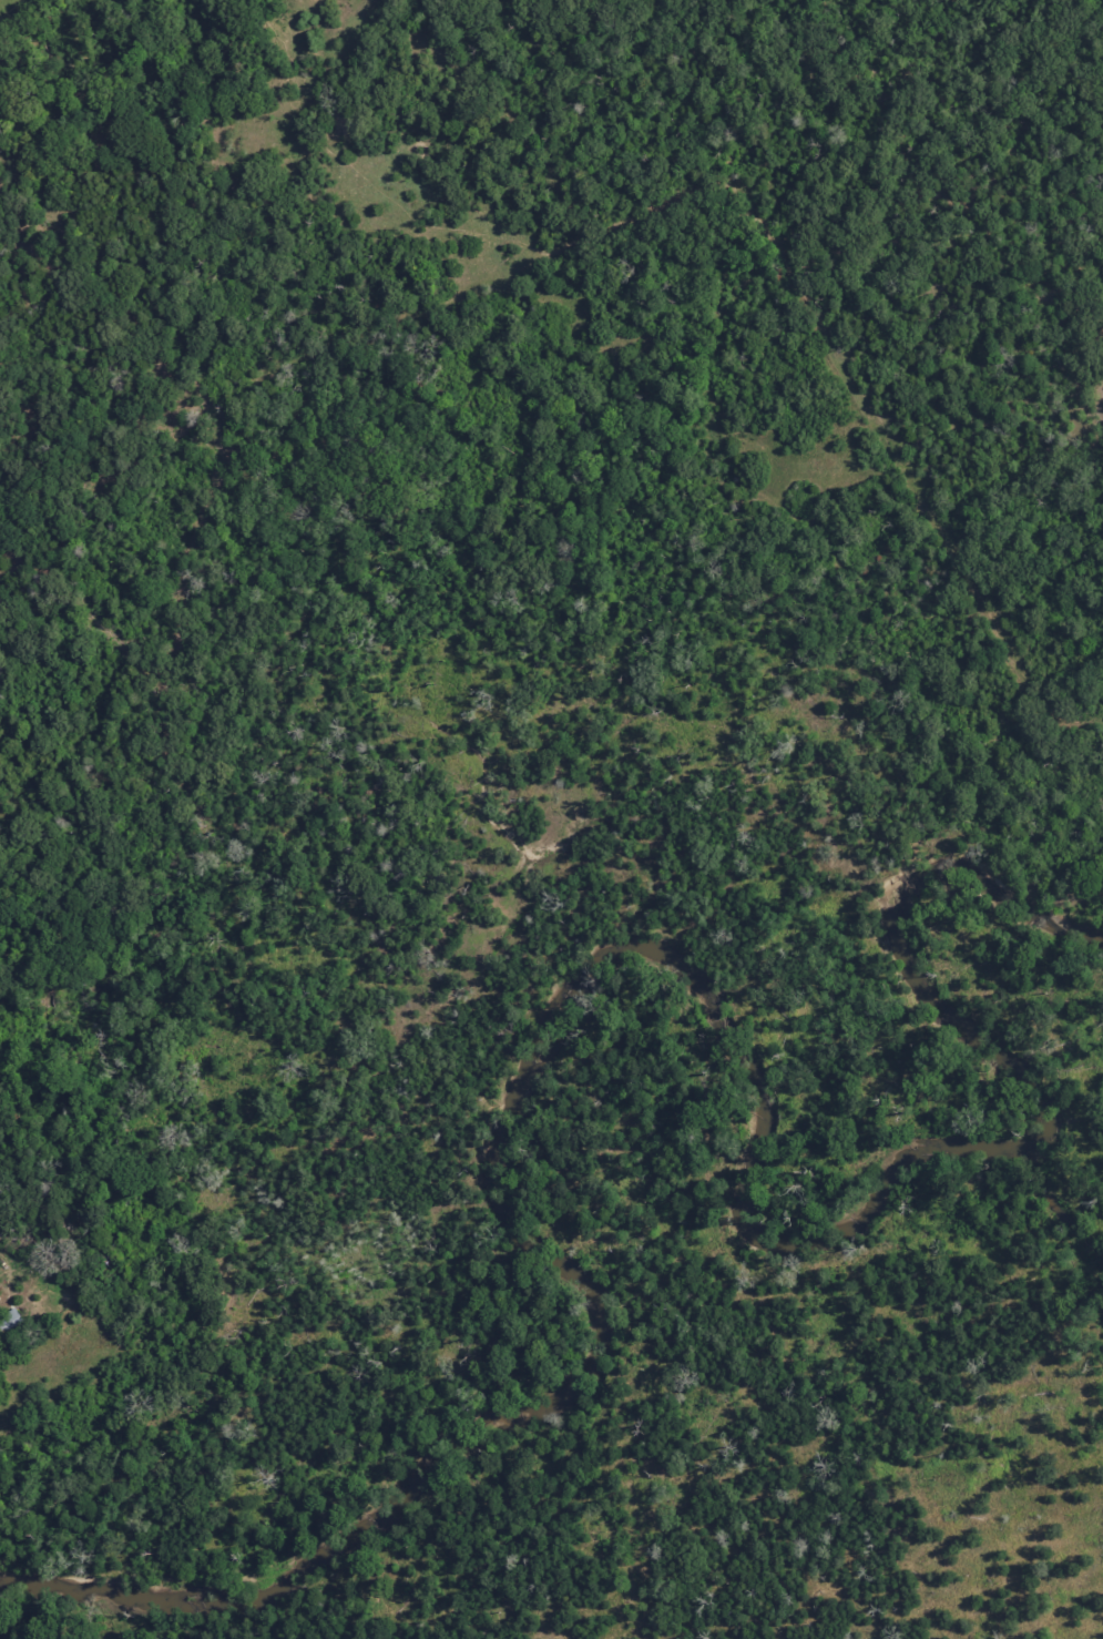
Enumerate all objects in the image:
road: (11, 1218)

